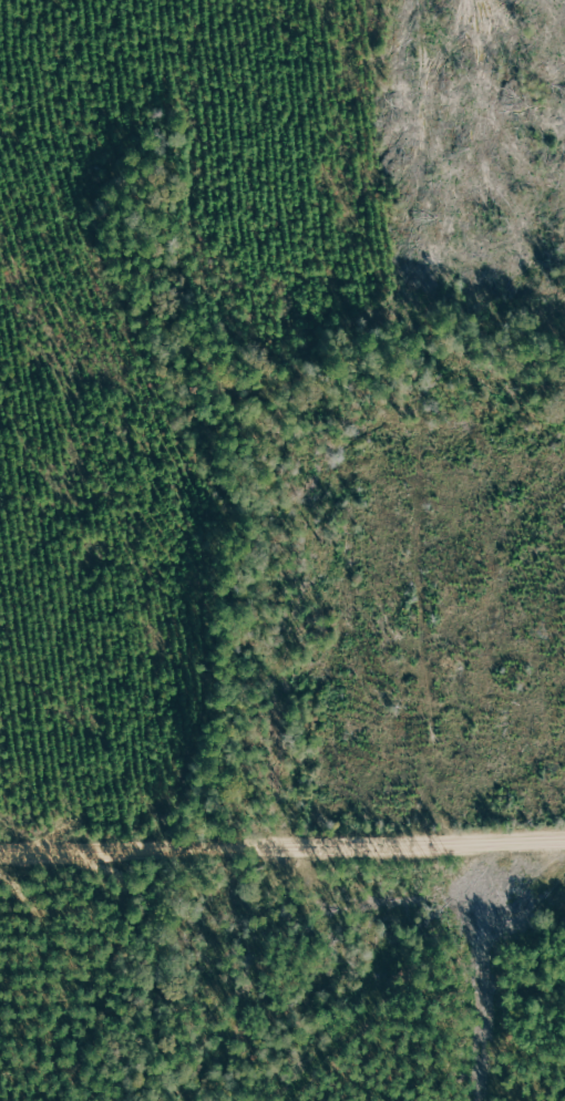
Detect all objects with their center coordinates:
road: (282, 840)

